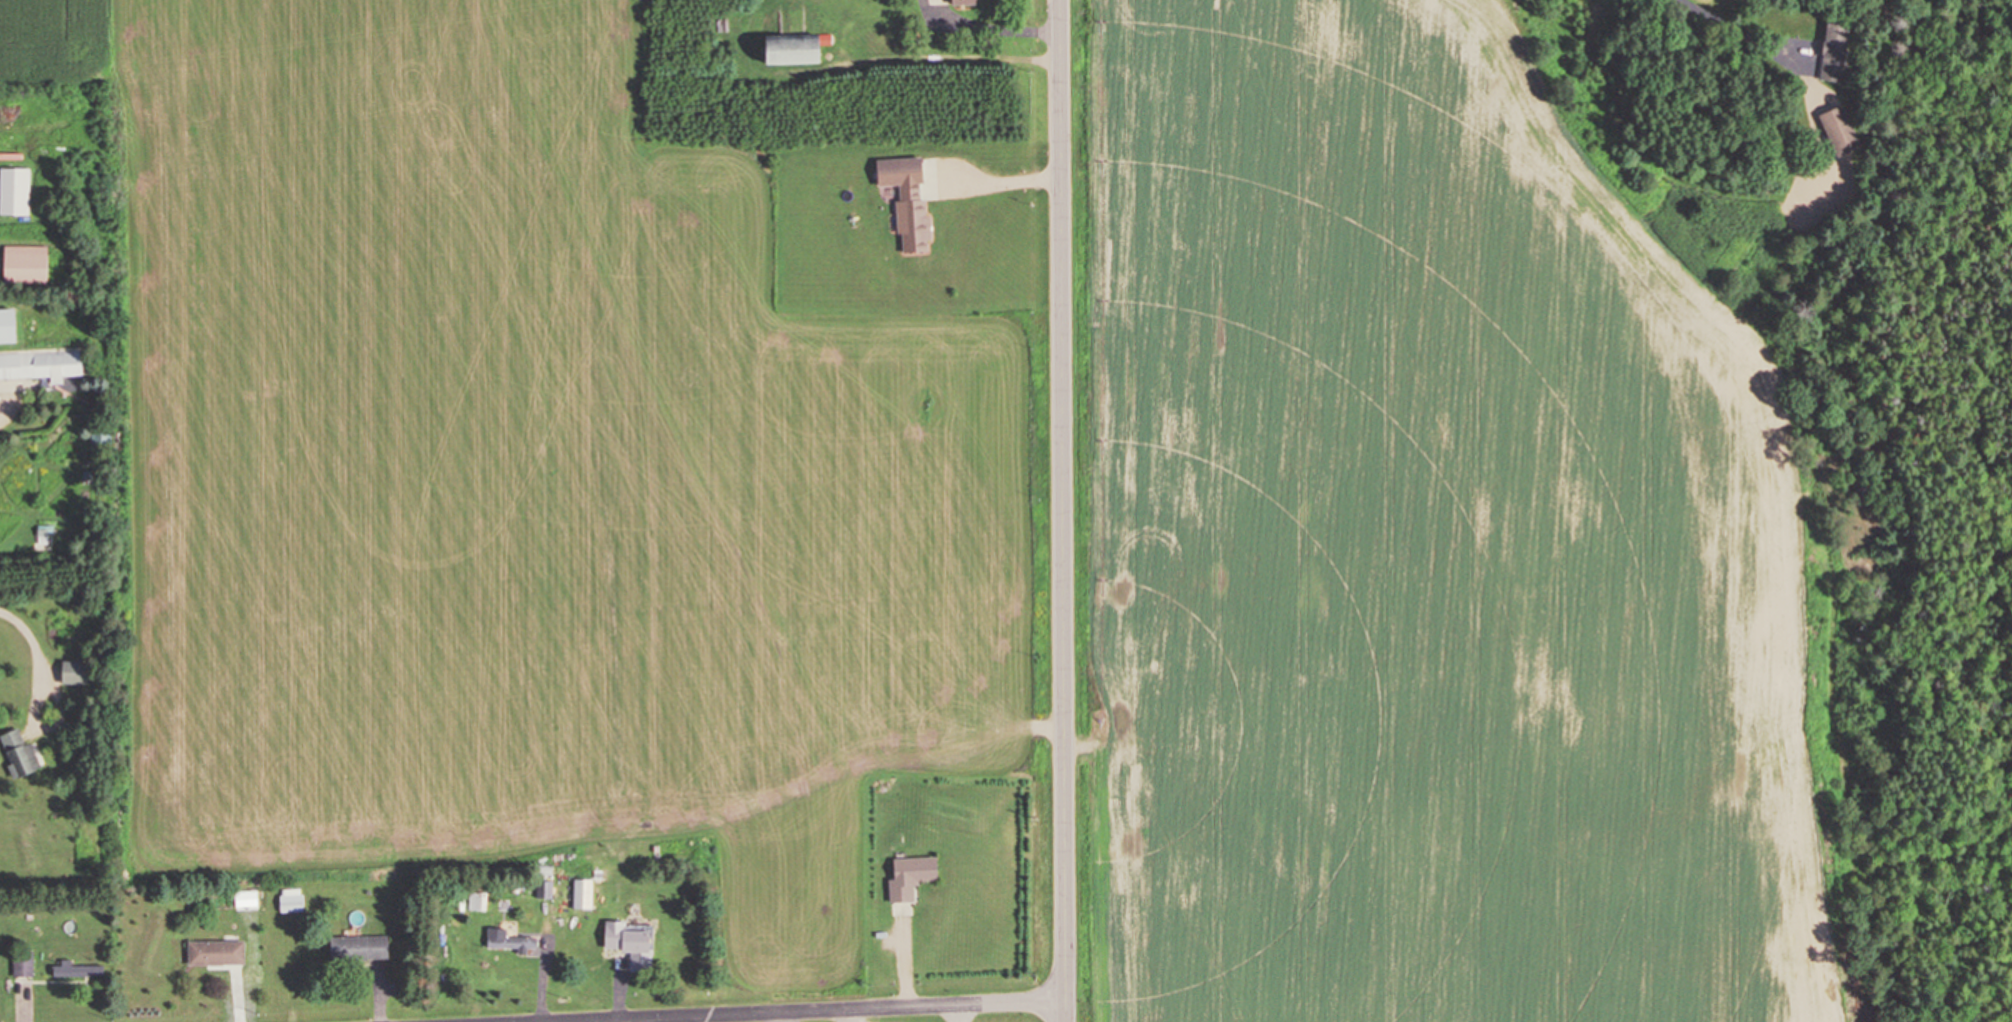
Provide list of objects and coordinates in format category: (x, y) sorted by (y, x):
building: (959, 2)
road: (1718, 19)
building: (788, 49)
building: (1833, 51)
building: (1838, 130)
road: (1000, 176)
building: (905, 199)
building: (23, 263)
building: (40, 365)
building: (100, 436)
road: (1063, 511)
building: (43, 537)
road: (484, 584)
building: (72, 673)
building: (17, 754)
building: (908, 876)
building: (542, 889)
building: (581, 894)
building: (244, 898)
building: (289, 900)
building: (476, 901)
building: (507, 940)
building: (628, 944)
building: (356, 948)
building: (213, 953)
building: (21, 964)
building: (74, 970)
road: (817, 1011)
park: (944, 1013)

